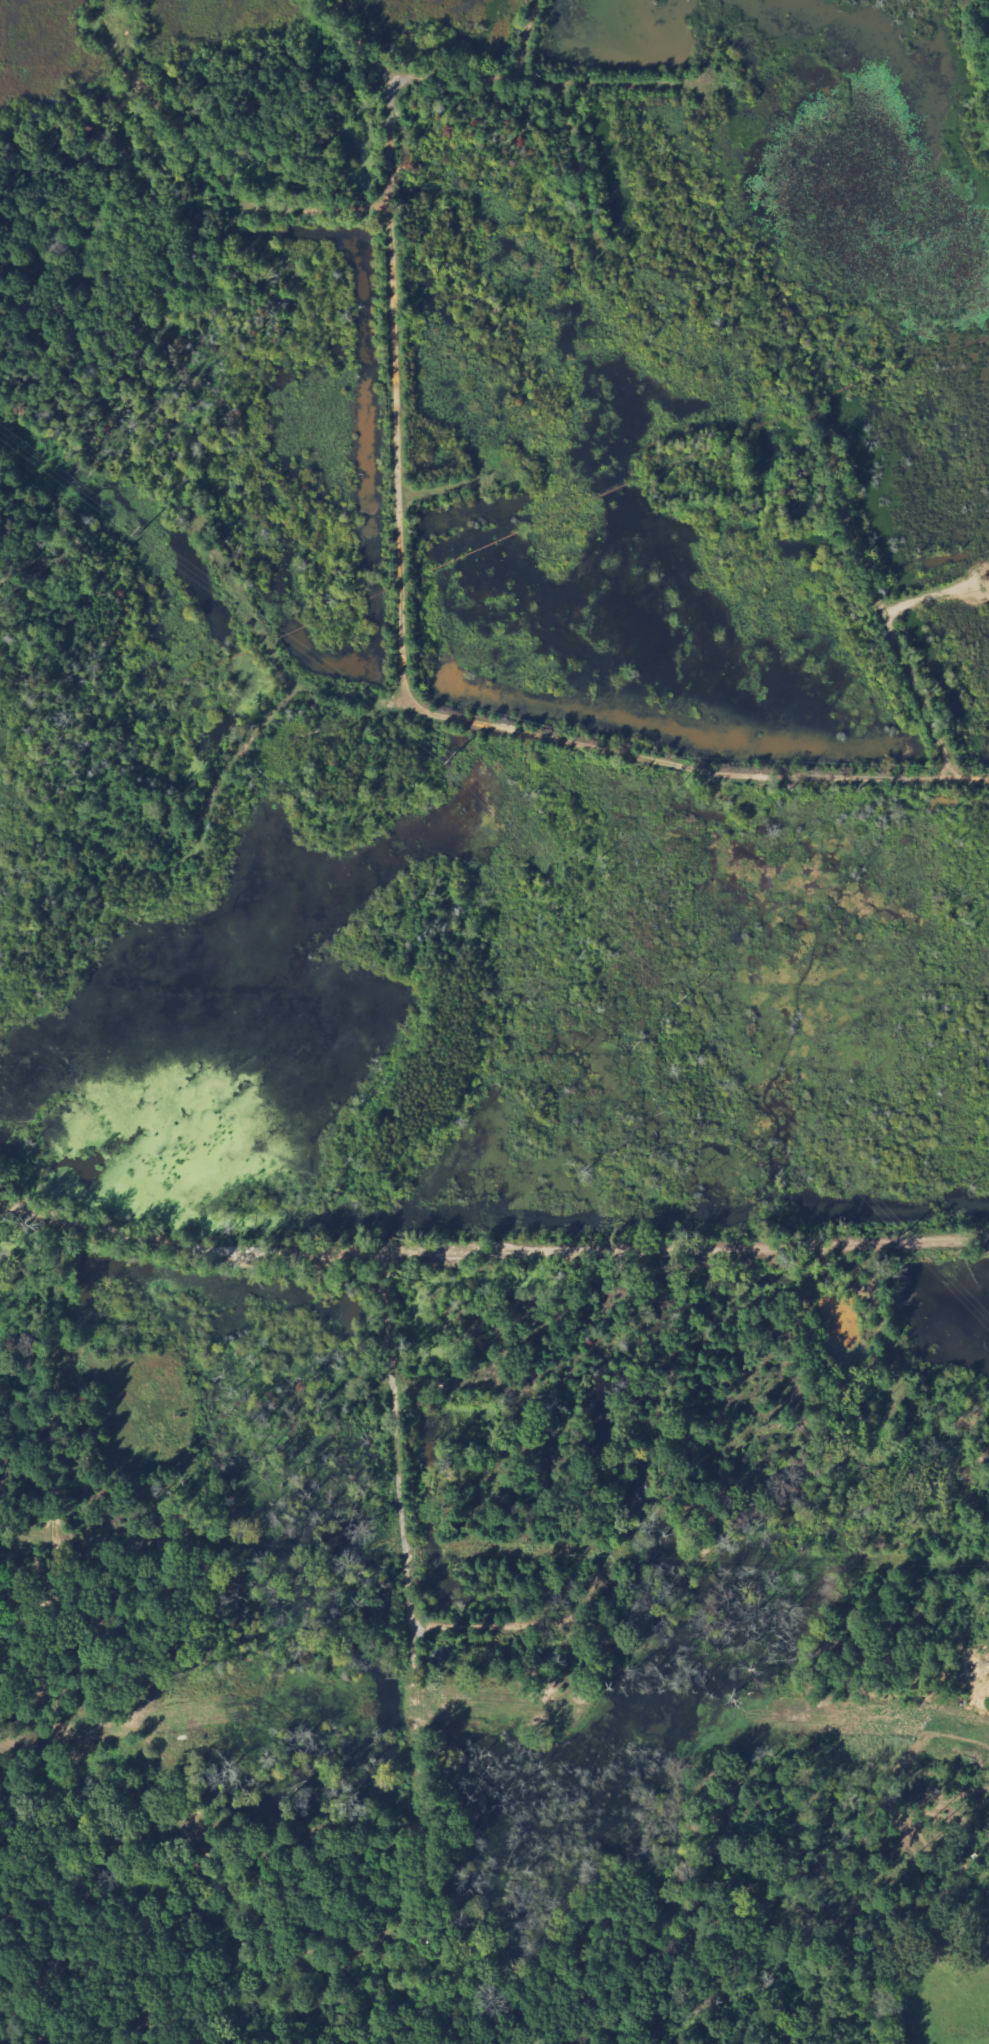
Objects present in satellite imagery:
power tower: (137, 534)
power tower: (452, 756)
power tower: (680, 1000)
road: (491, 1252)

